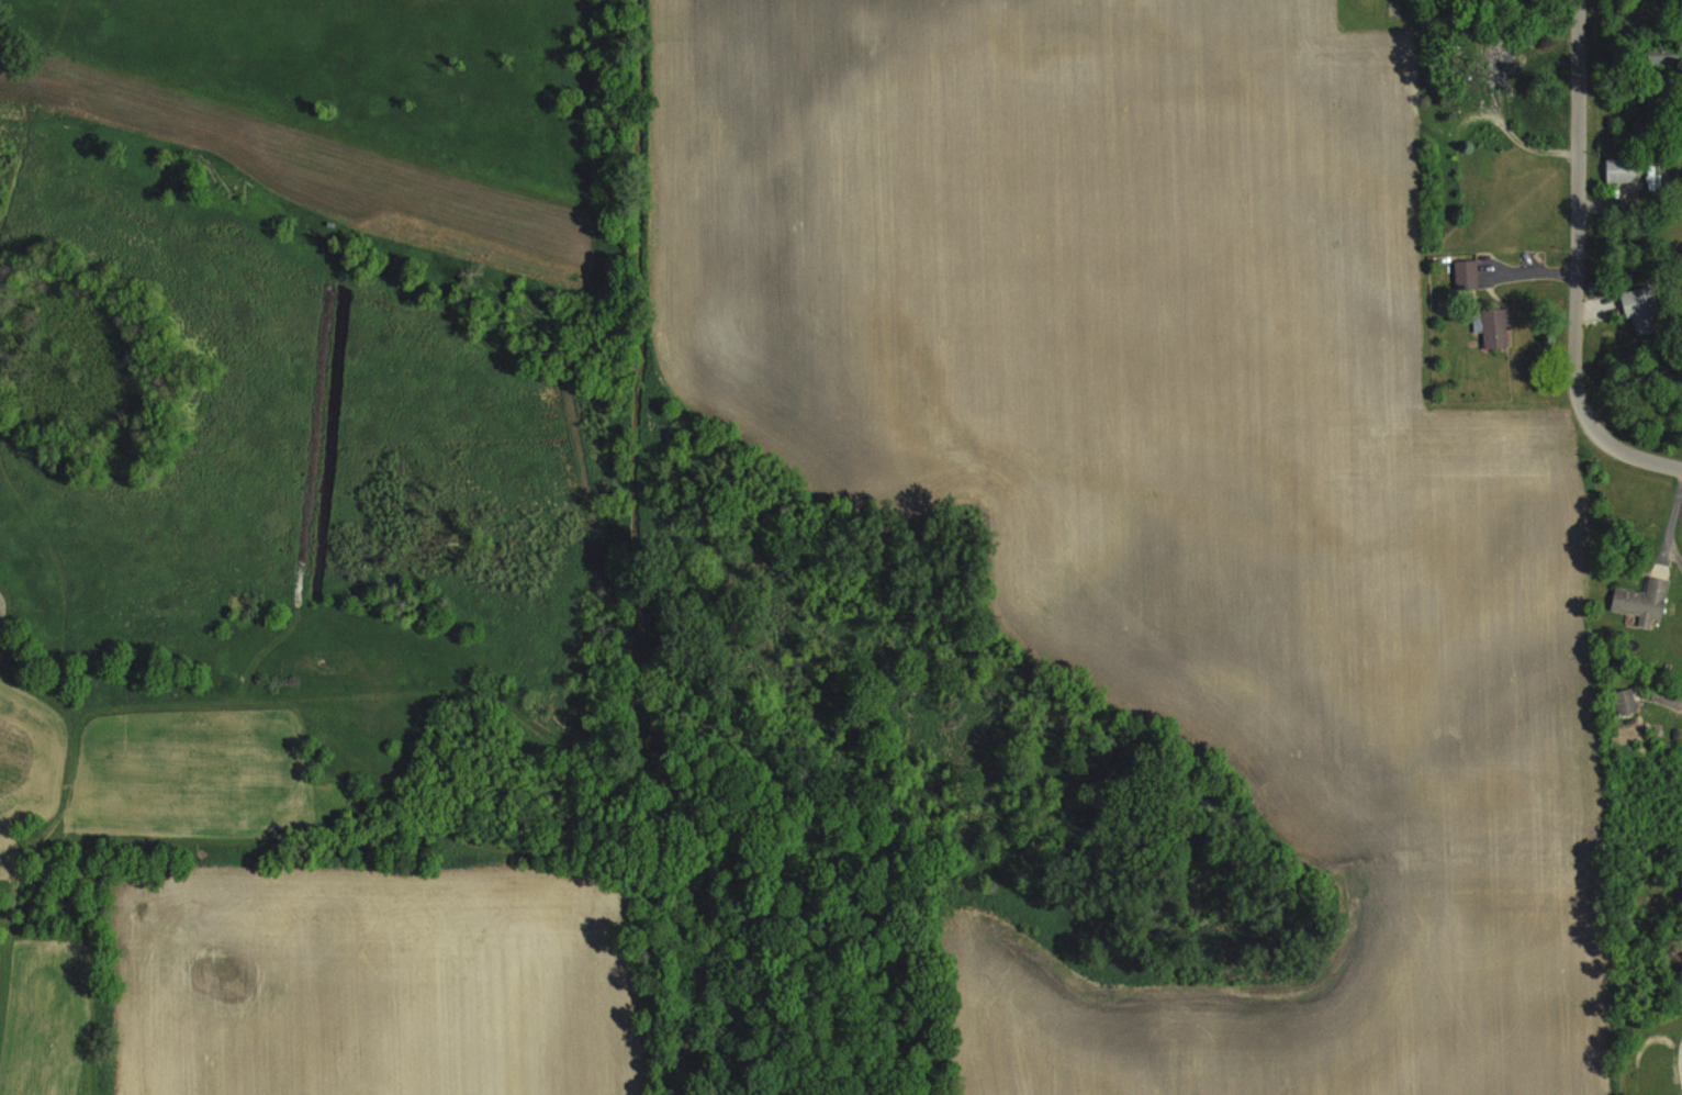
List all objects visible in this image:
building: (1663, 52)
building: (1499, 65)
building: (1621, 168)
road: (1570, 268)
building: (1466, 273)
building: (1640, 310)
building: (1493, 326)
building: (1642, 600)
building: (1624, 700)

